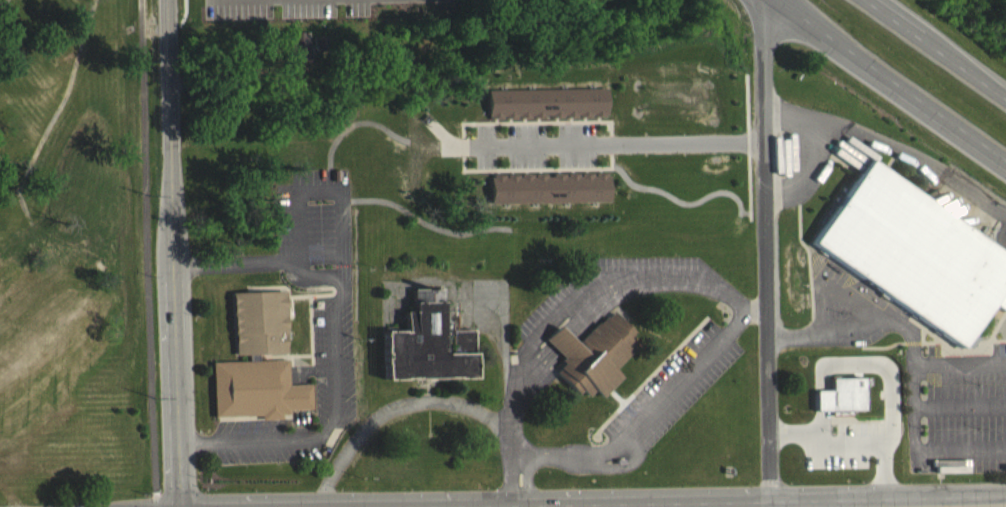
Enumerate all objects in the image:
road: (939, 46)
building: (318, 54)
building: (296, 58)
road: (890, 81)
building: (545, 103)
road: (617, 145)
parking lot: (534, 146)
road: (891, 150)
road: (804, 173)
building: (548, 188)
road: (177, 253)
road: (764, 253)
building: (914, 254)
road: (343, 271)
road: (720, 290)
road: (755, 310)
building: (427, 352)
road: (911, 363)
road: (958, 365)
building: (591, 366)
building: (256, 372)
building: (840, 406)
road: (392, 407)
road: (524, 480)
road: (510, 481)
road: (927, 506)

